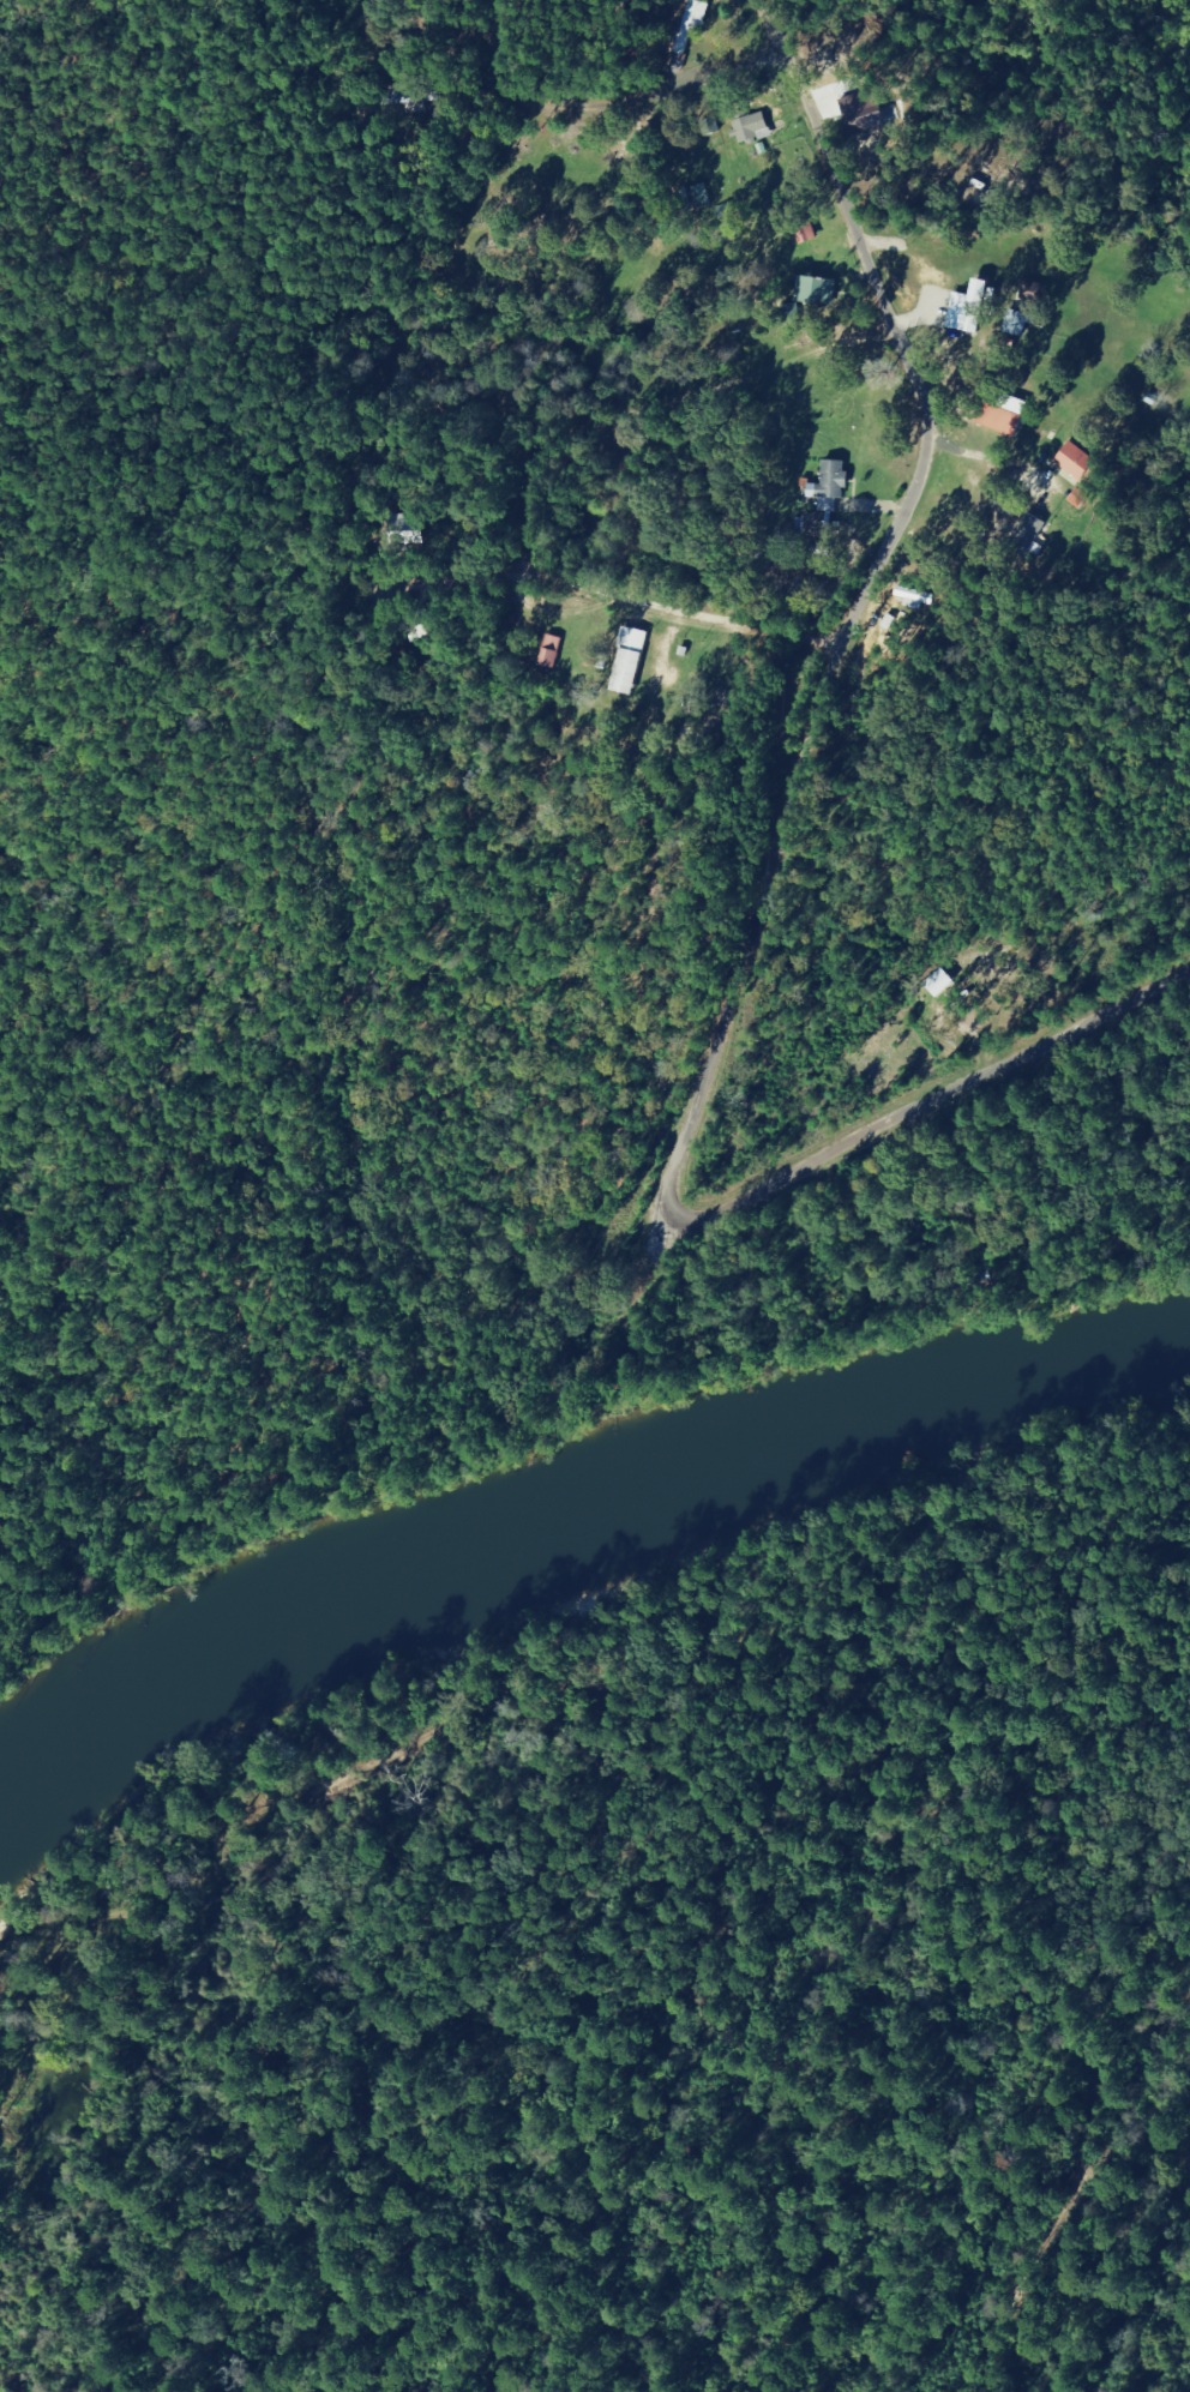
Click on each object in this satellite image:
building: (690, 24)
building: (864, 124)
building: (752, 128)
building: (805, 233)
building: (816, 292)
building: (964, 313)
building: (1017, 323)
building: (998, 420)
building: (1074, 461)
building: (829, 489)
building: (1027, 535)
road: (906, 645)
building: (557, 650)
road: (597, 651)
building: (638, 660)
road: (372, 1086)
road: (916, 1114)
road: (679, 1329)
river: (567, 1520)
road: (794, 1711)

